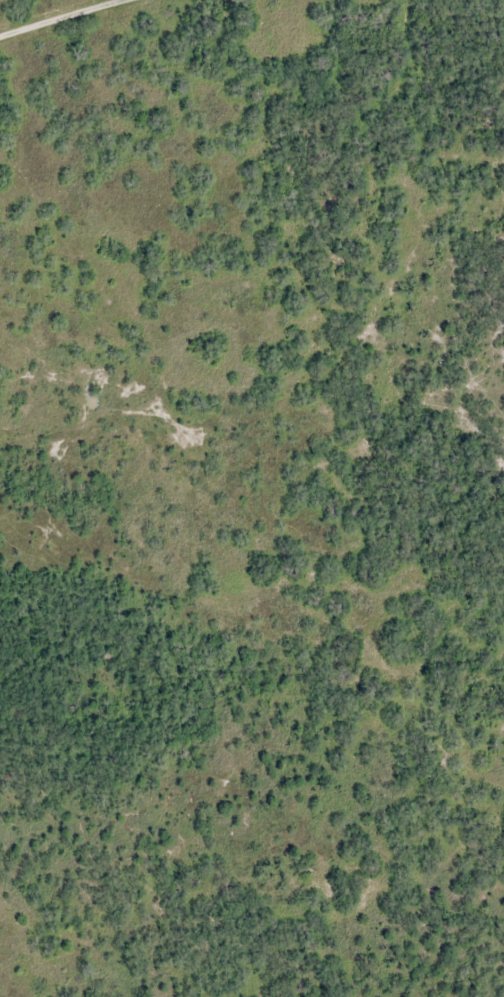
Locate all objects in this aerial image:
road: (66, 20)

